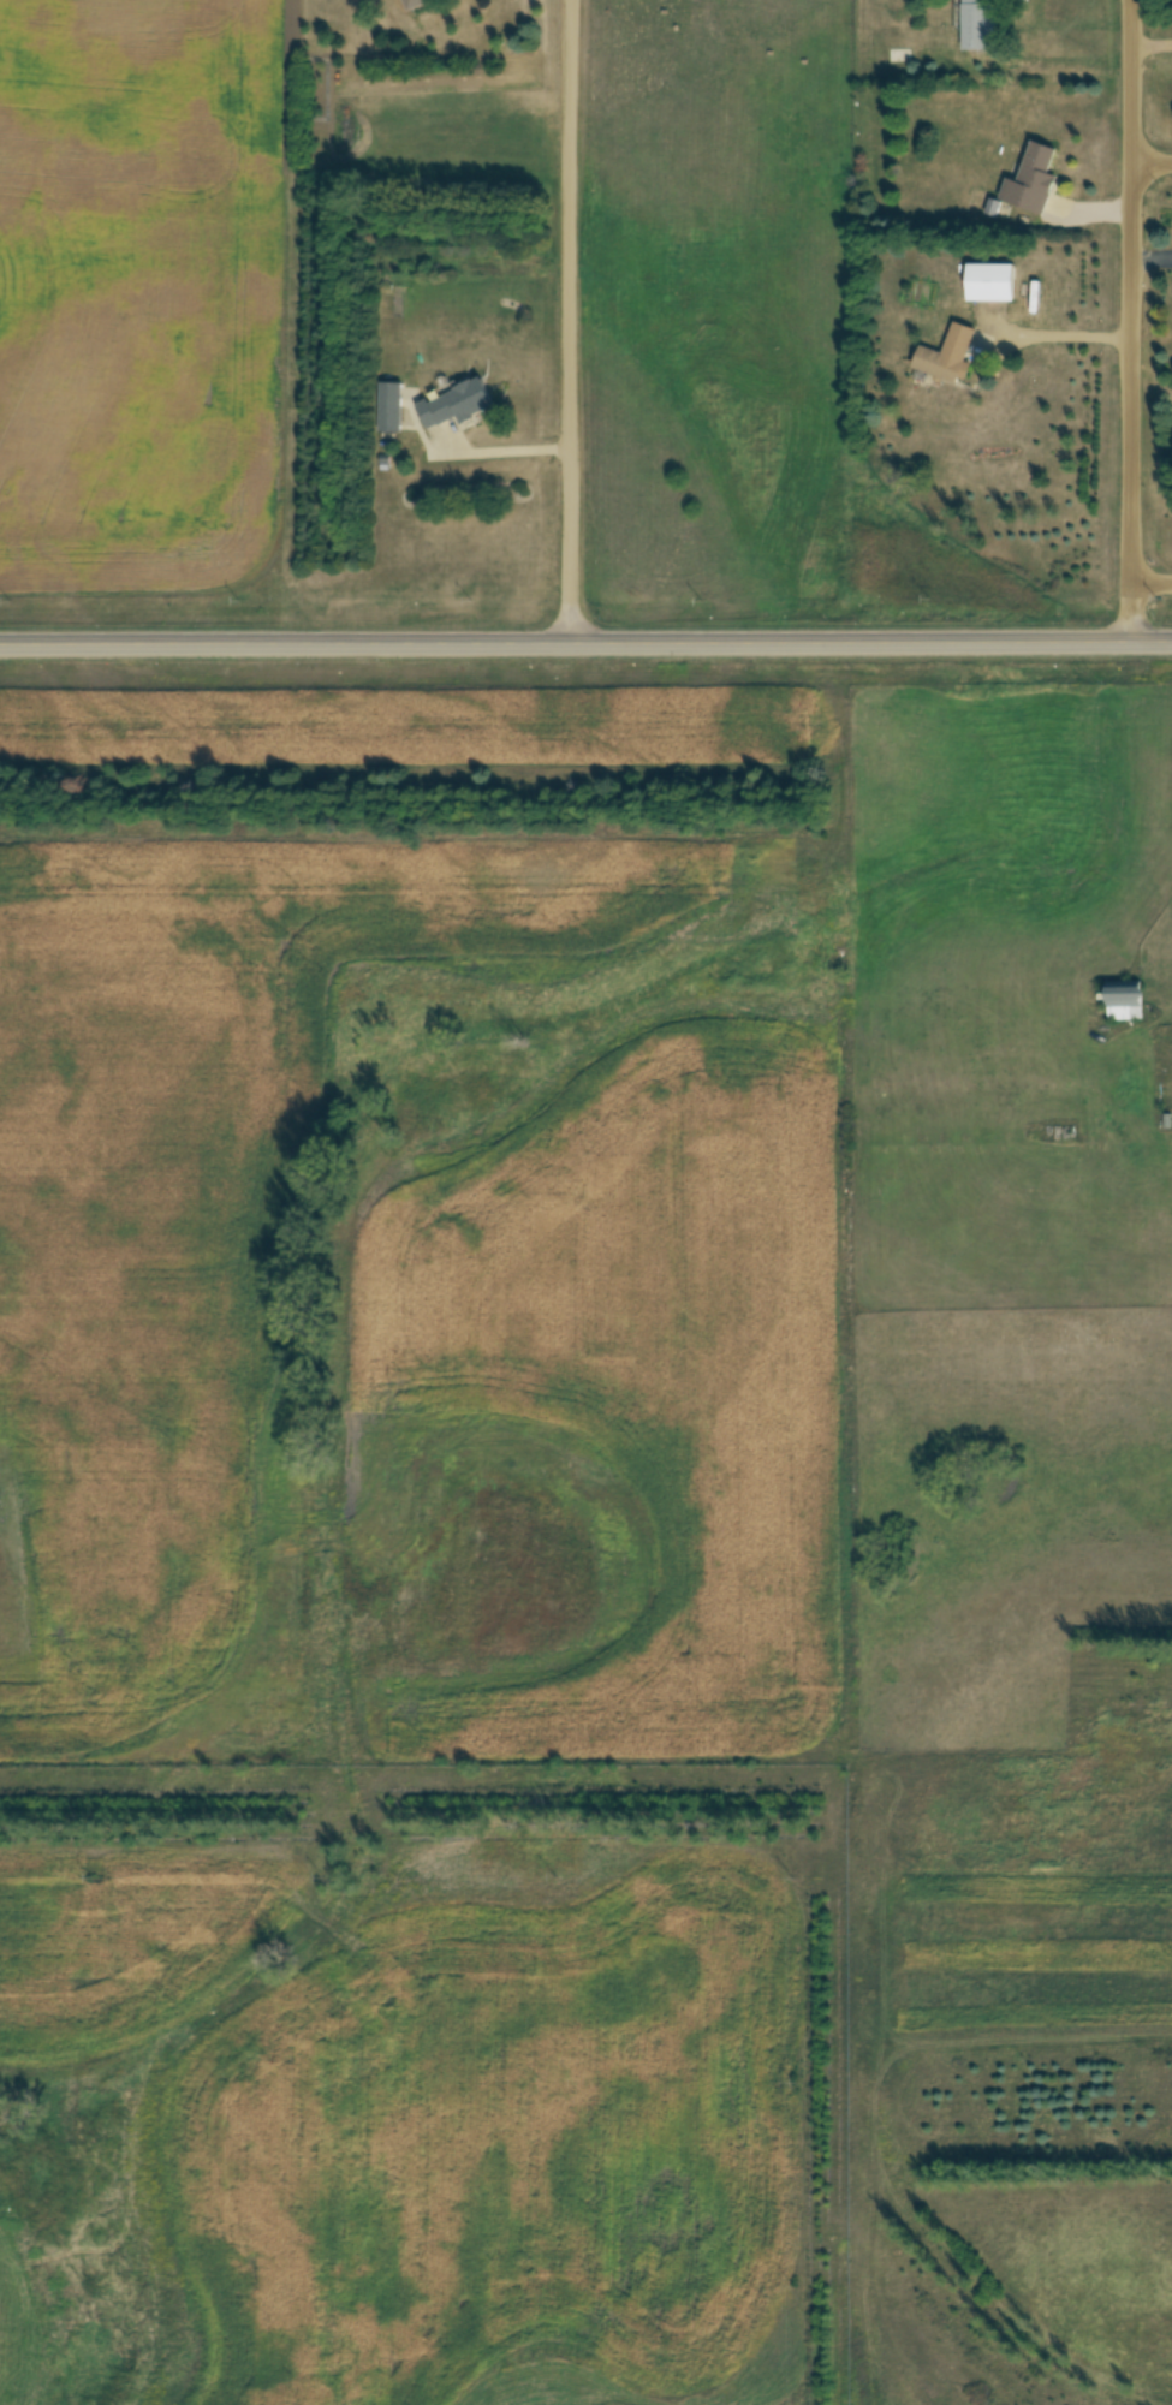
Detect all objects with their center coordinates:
building: (411, 2)
building: (978, 24)
road: (1154, 165)
building: (1033, 181)
building: (995, 284)
road: (1140, 322)
road: (571, 323)
road: (1070, 335)
building: (948, 357)
building: (457, 404)
building: (391, 407)
road: (508, 451)
road: (1155, 584)
road: (585, 647)
building: (1125, 1002)

